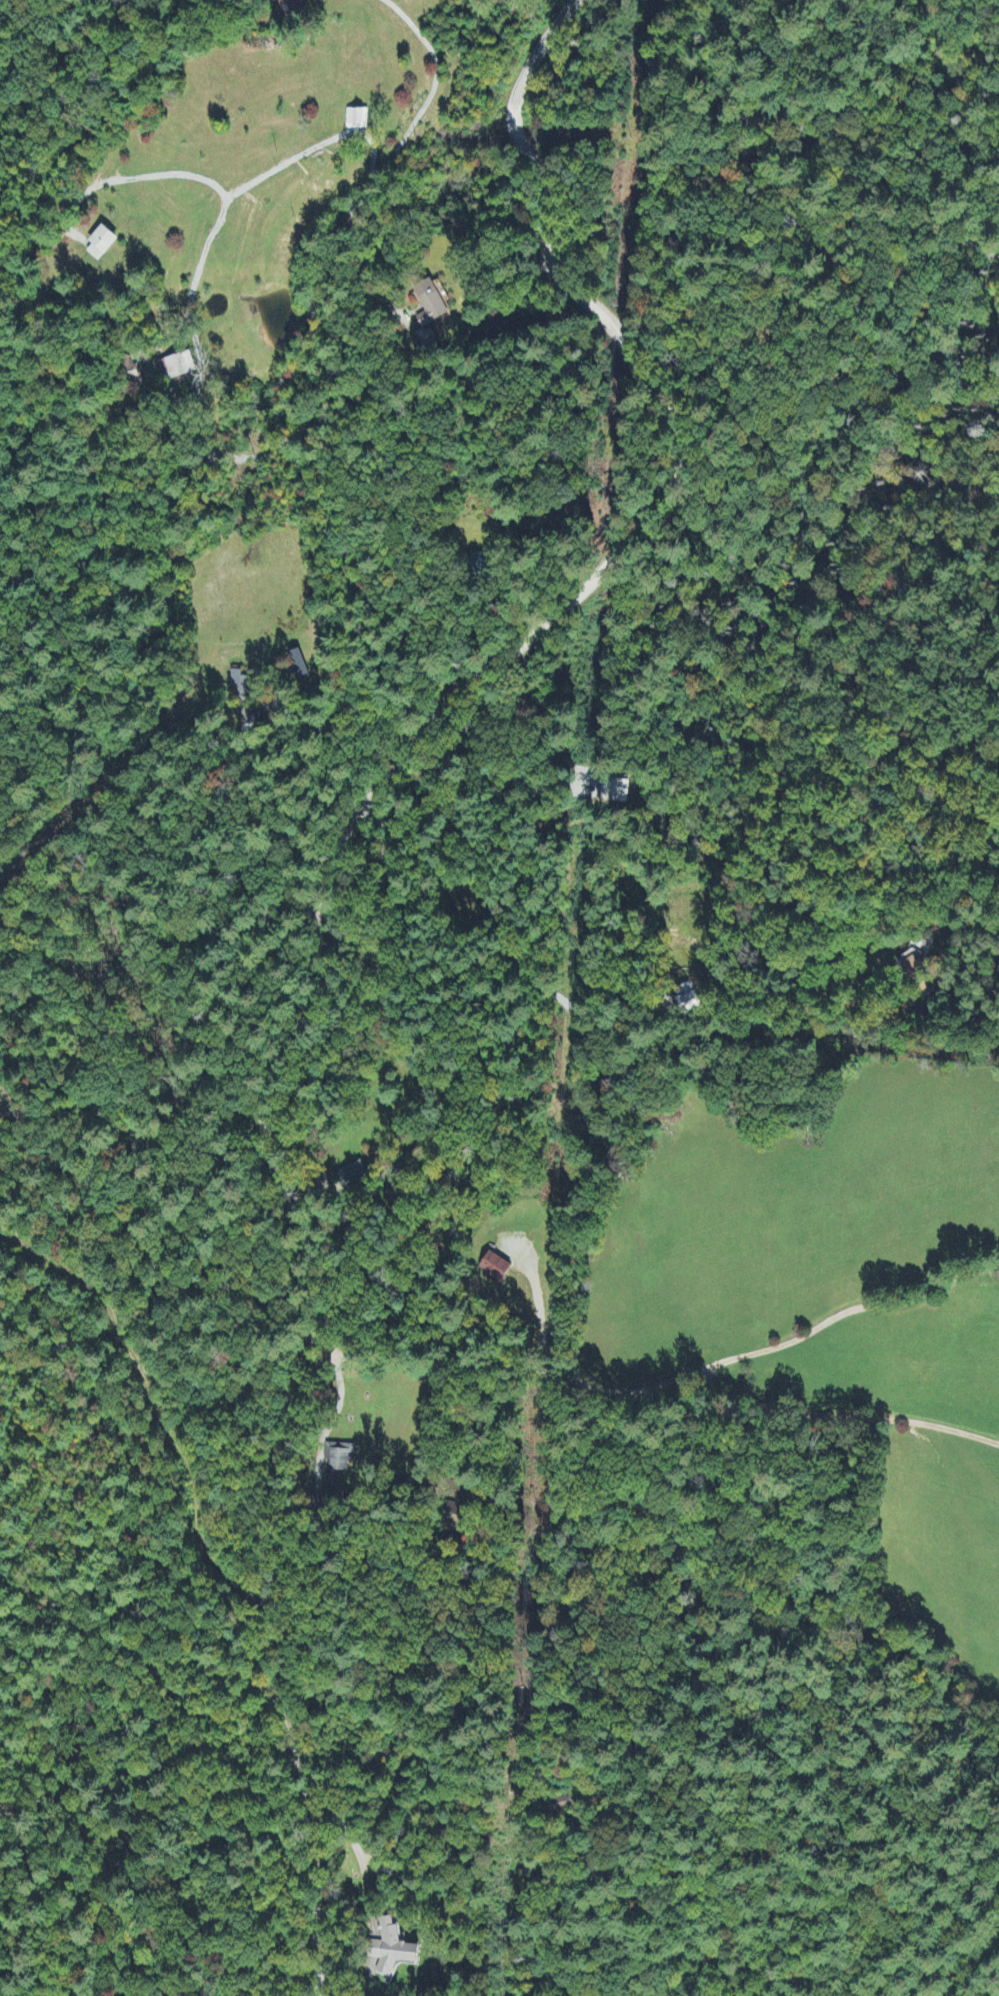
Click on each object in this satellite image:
building: (356, 121)
building: (100, 245)
building: (429, 305)
building: (176, 367)
road: (194, 433)
building: (479, 566)
road: (593, 575)
building: (296, 669)
building: (242, 697)
building: (615, 792)
road: (161, 1085)
building: (351, 1177)
road: (332, 1240)
building: (495, 1268)
road: (822, 1322)
road: (664, 1397)
road: (154, 1399)
road: (487, 1423)
building: (340, 1458)
road: (268, 1566)
road: (647, 1728)
building: (393, 1950)

